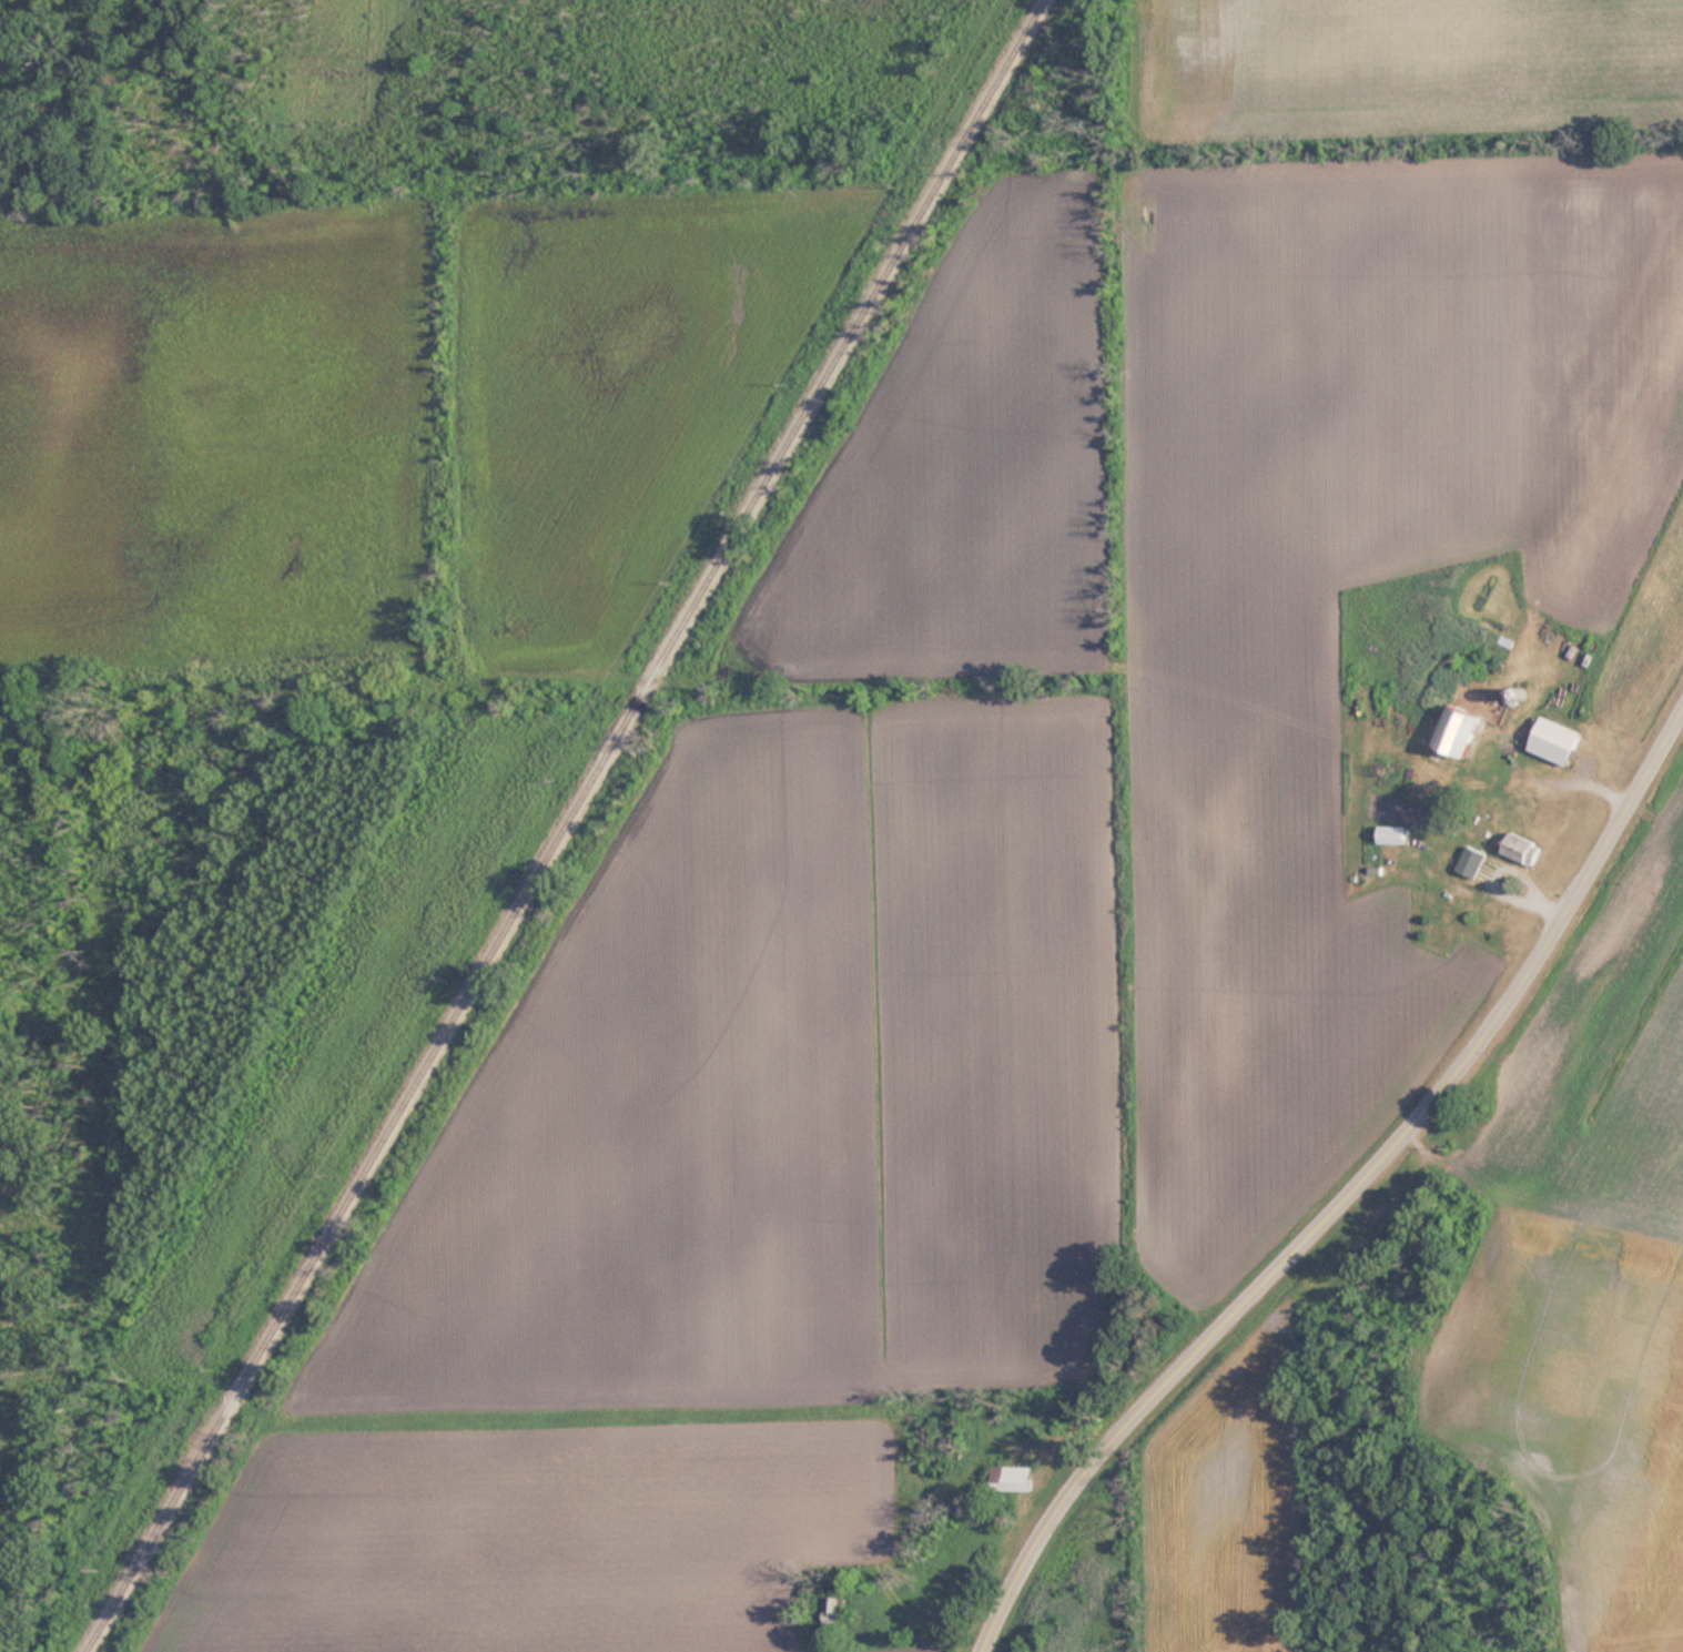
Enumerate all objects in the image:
building: (1457, 729)
building: (1554, 740)
railway: (565, 825)
building: (1392, 834)
building: (1522, 848)
building: (1471, 861)
road: (1349, 1202)
building: (1015, 1479)

